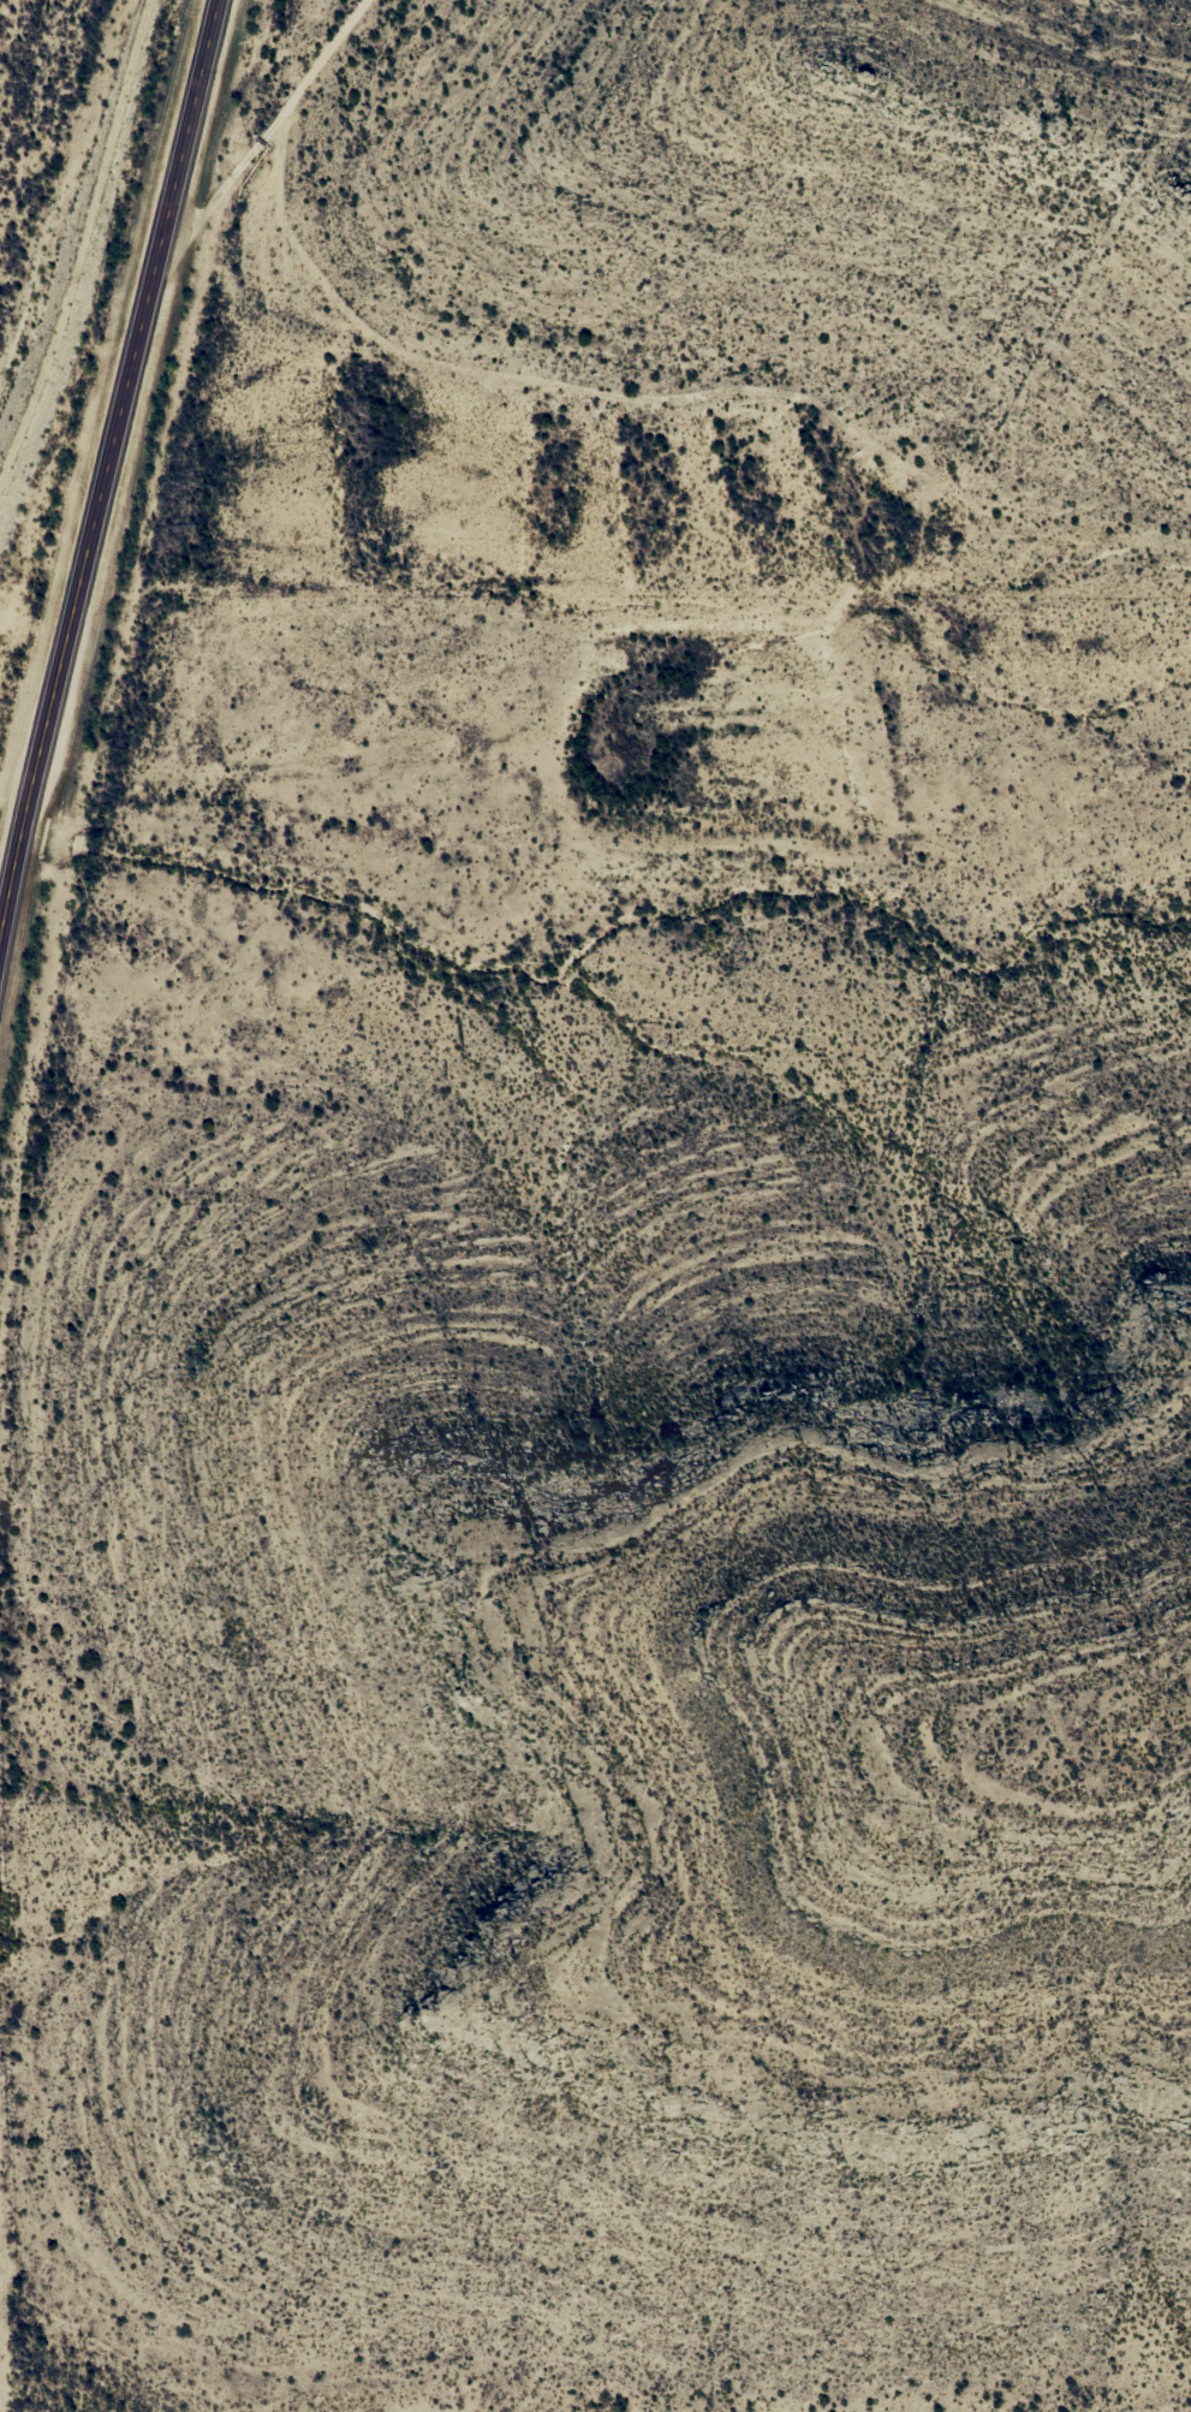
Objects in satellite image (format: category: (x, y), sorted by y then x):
road: (272, 124)
road: (106, 465)

